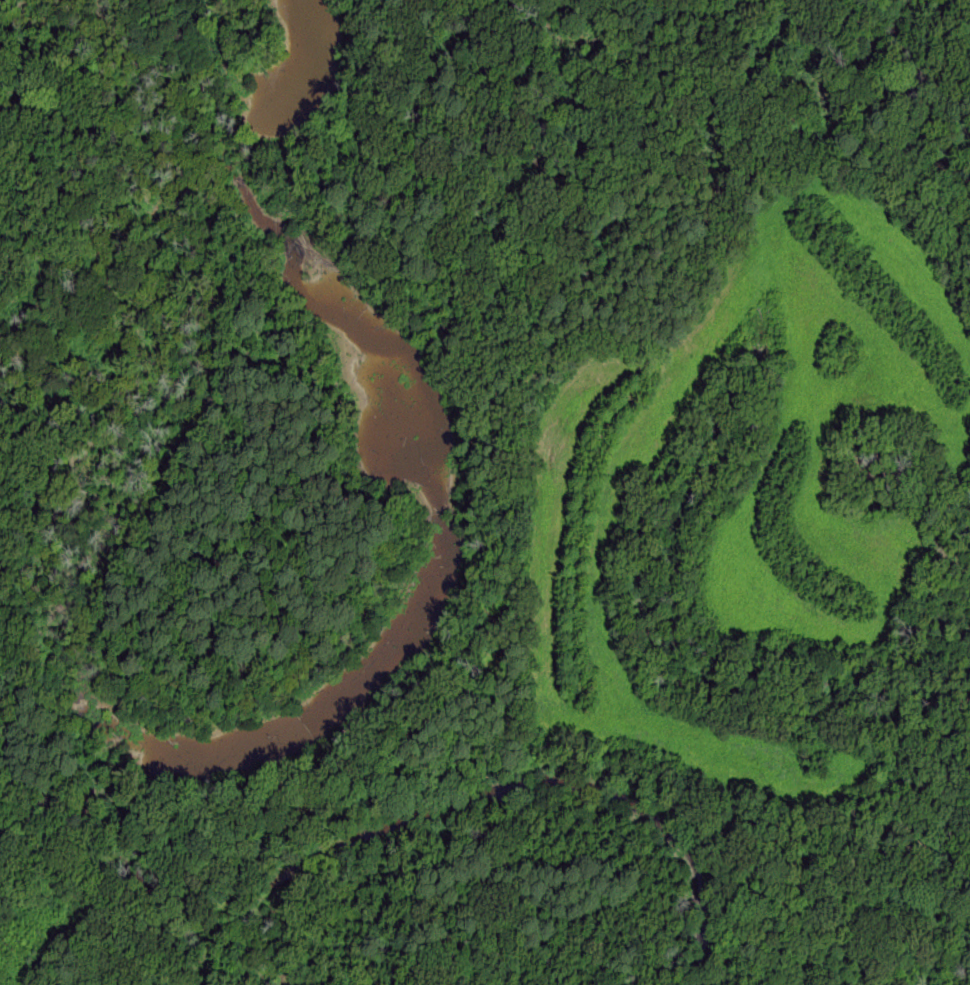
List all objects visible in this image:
road: (204, 950)

